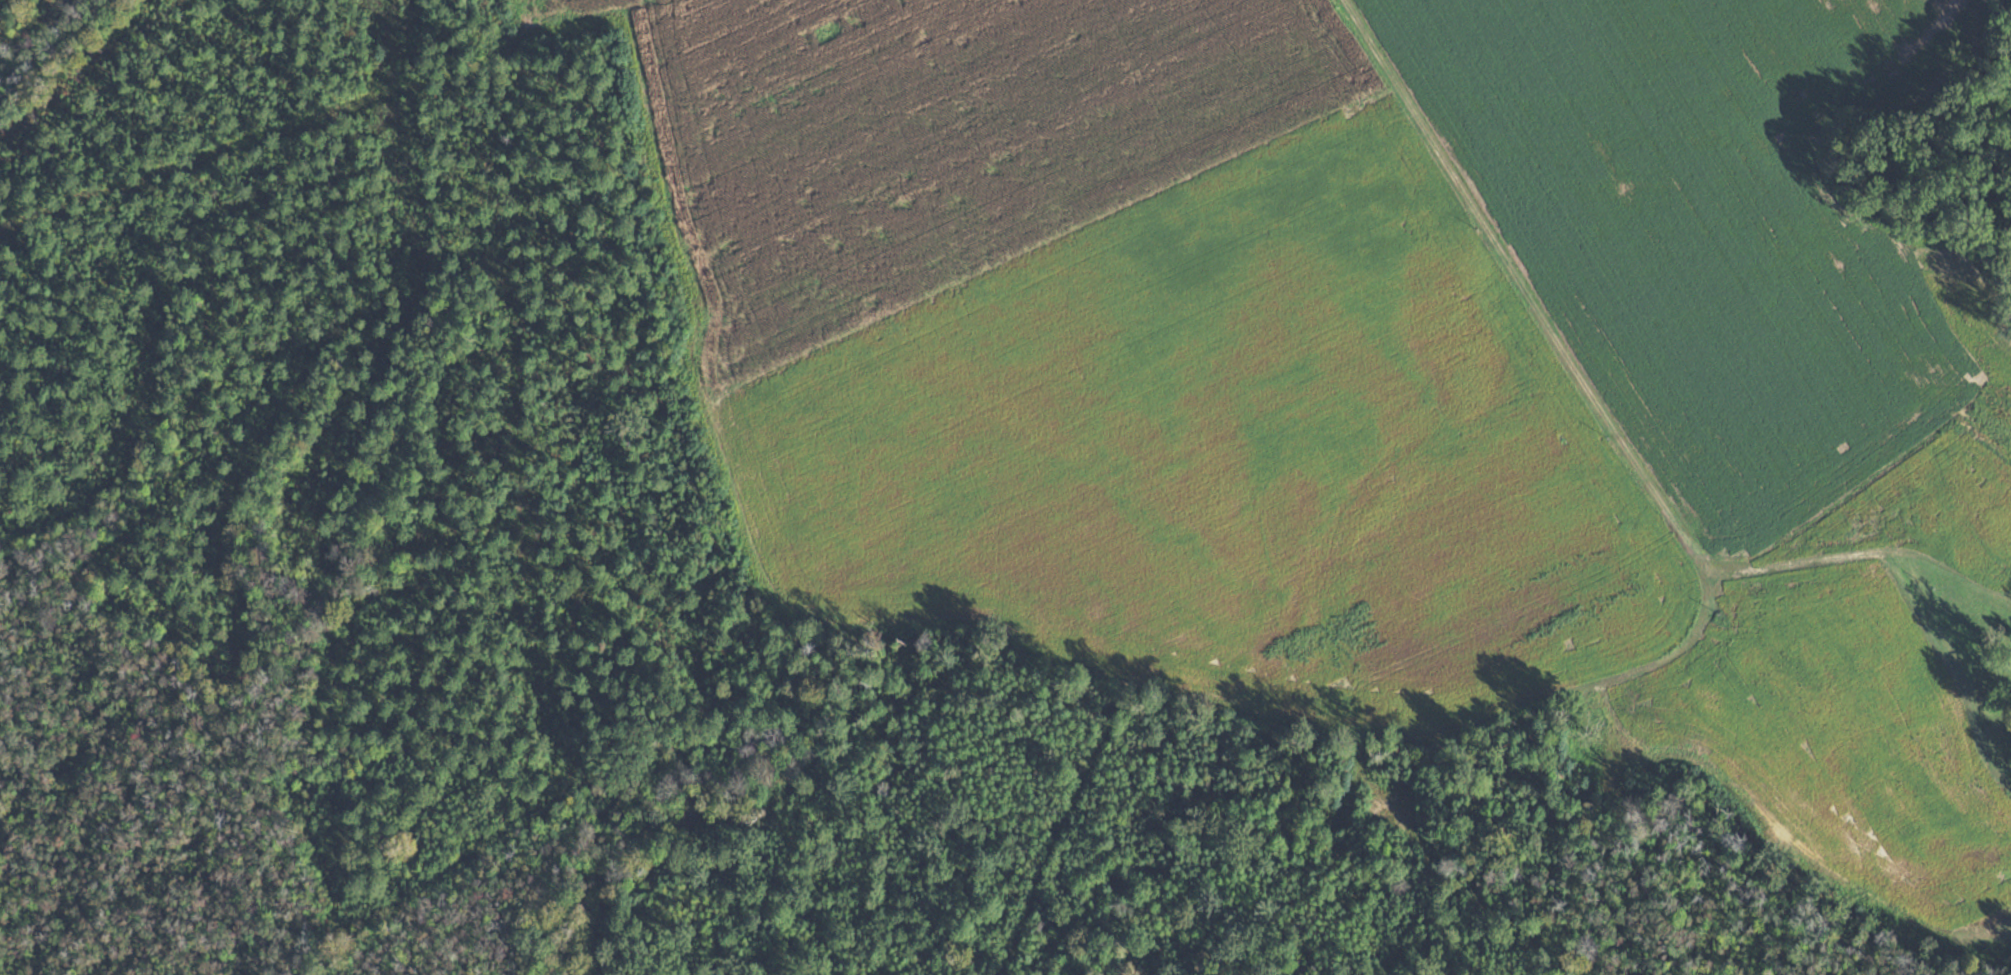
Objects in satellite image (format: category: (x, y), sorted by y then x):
road: (1604, 423)
park: (989, 494)

